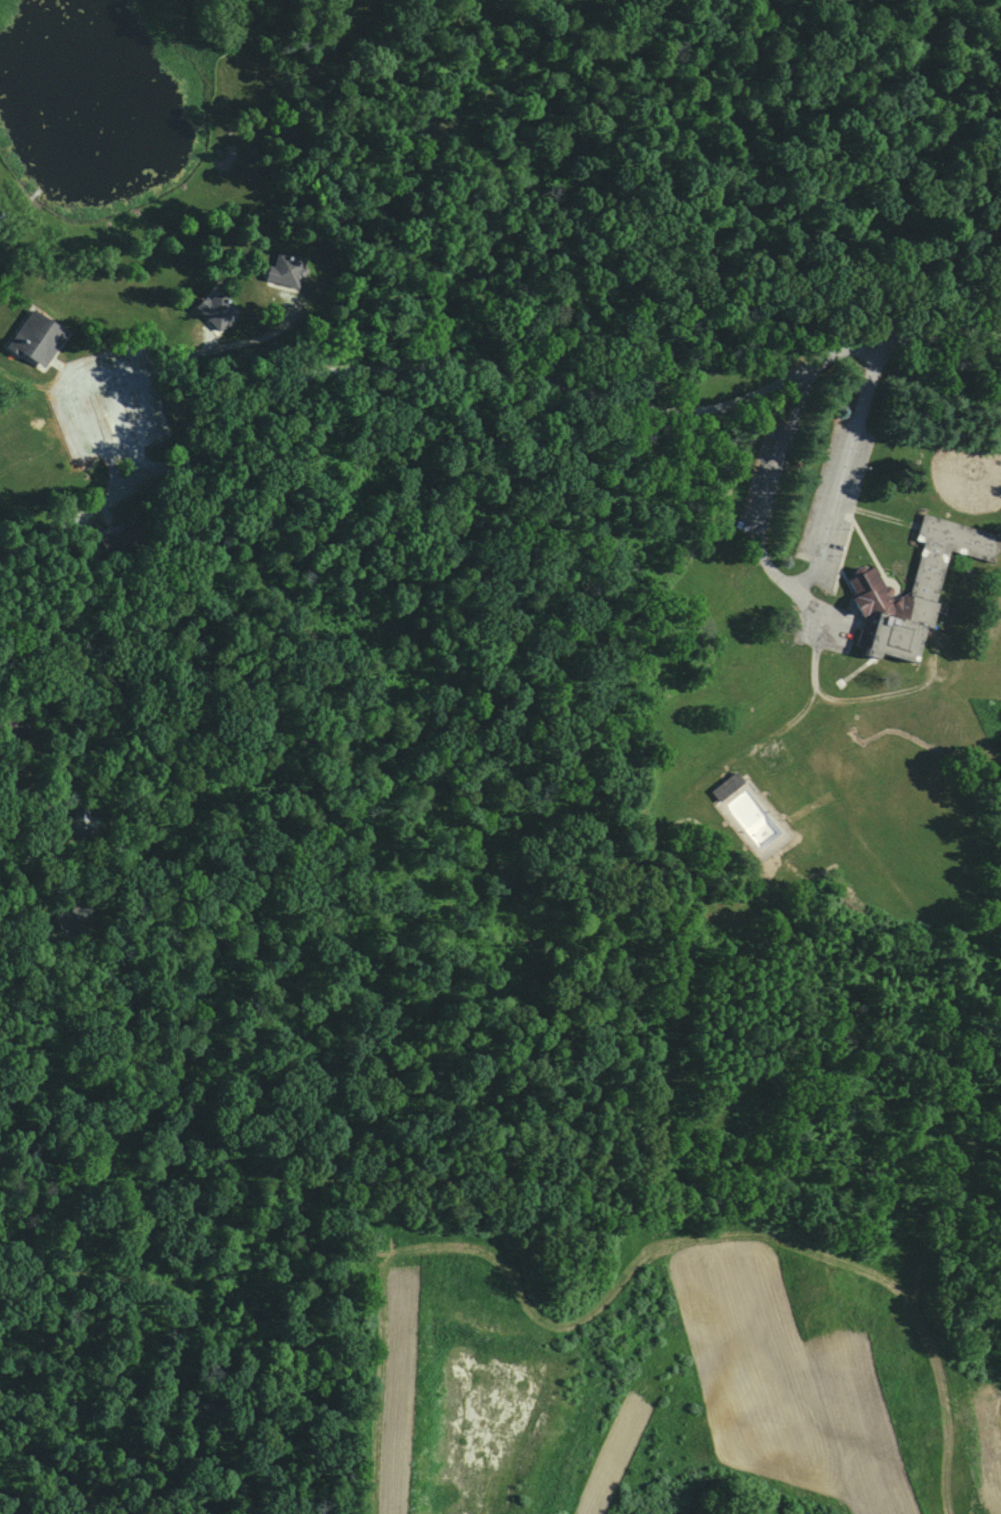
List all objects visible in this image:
building: (286, 271)
building: (219, 311)
building: (36, 339)
road: (479, 386)
road: (868, 387)
road: (784, 449)
parking lot: (769, 477)
road: (837, 499)
parking lot: (836, 501)
road: (845, 515)
road: (853, 523)
road: (775, 574)
building: (916, 588)
road: (810, 601)
road: (823, 630)
parking lot: (828, 630)
road: (907, 692)
road: (777, 733)
building: (728, 786)
park: (909, 844)

